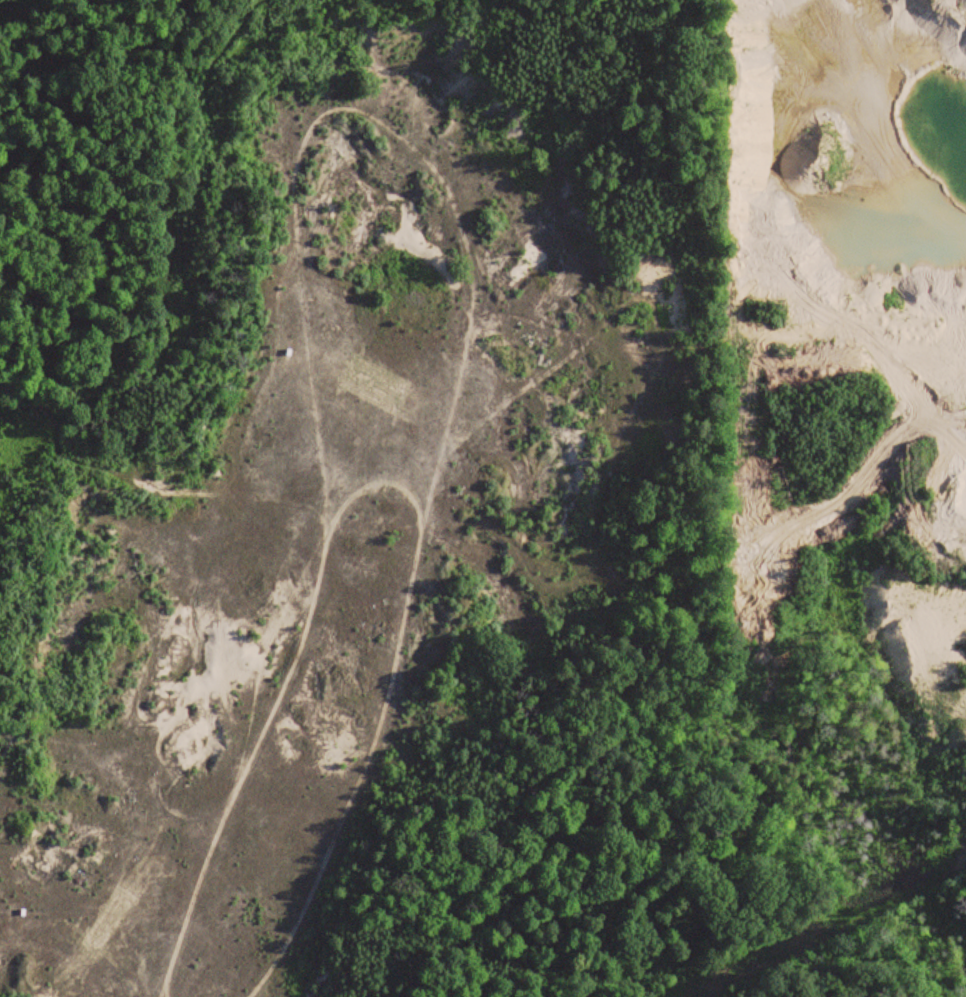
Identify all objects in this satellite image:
quarry: (925, 286)

